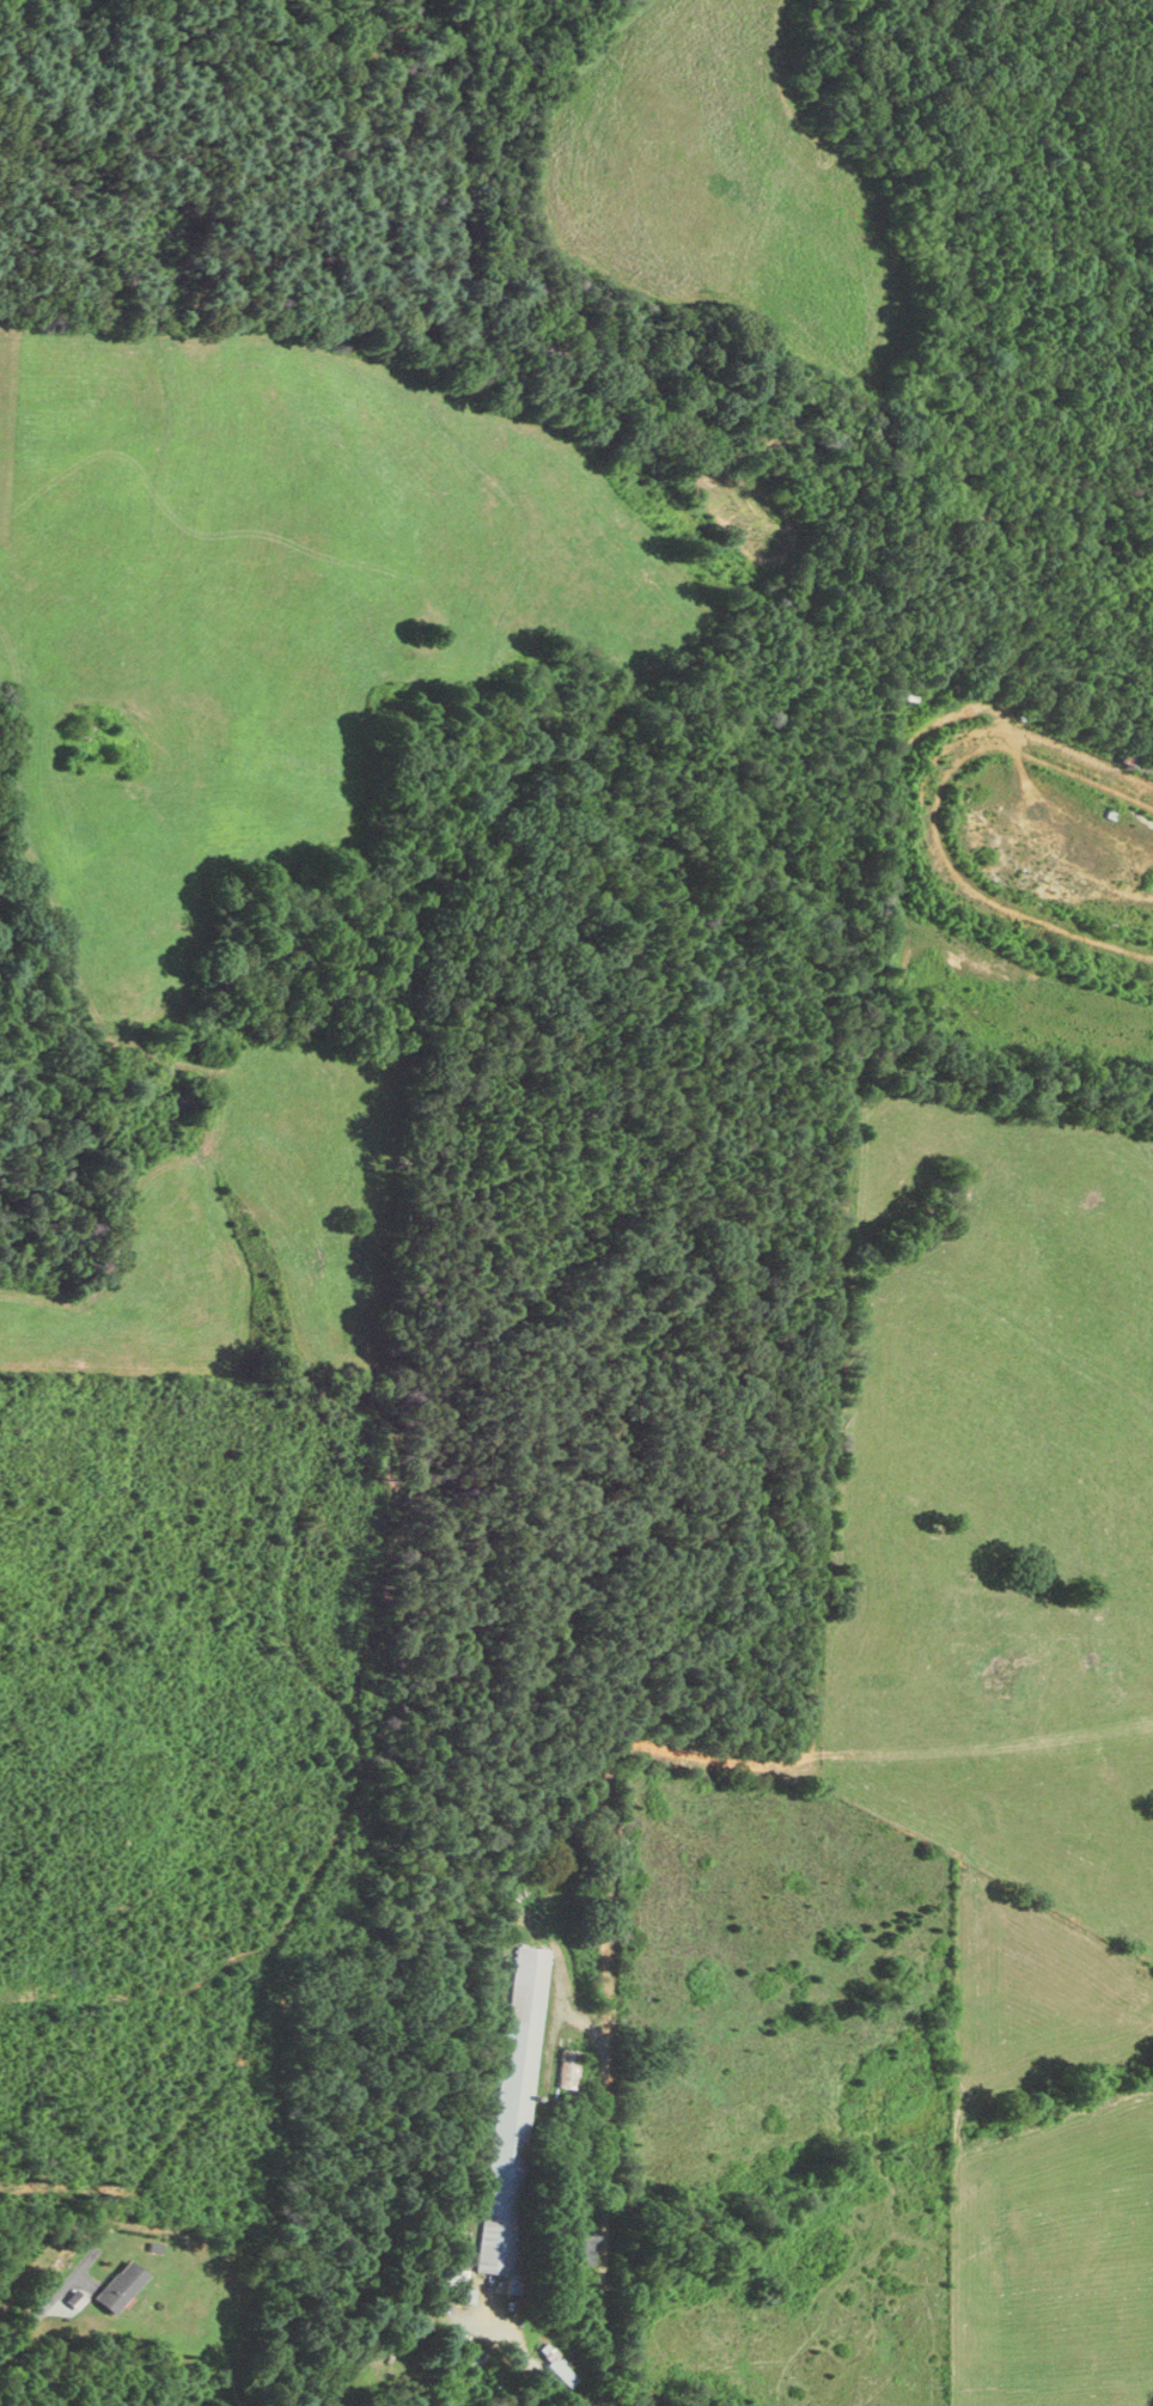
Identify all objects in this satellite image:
road: (765, 1768)
road: (974, 1852)
building: (492, 1986)
building: (568, 2070)
building: (513, 2118)
building: (456, 2288)
building: (121, 2289)
road: (23, 2323)
building: (559, 2365)

